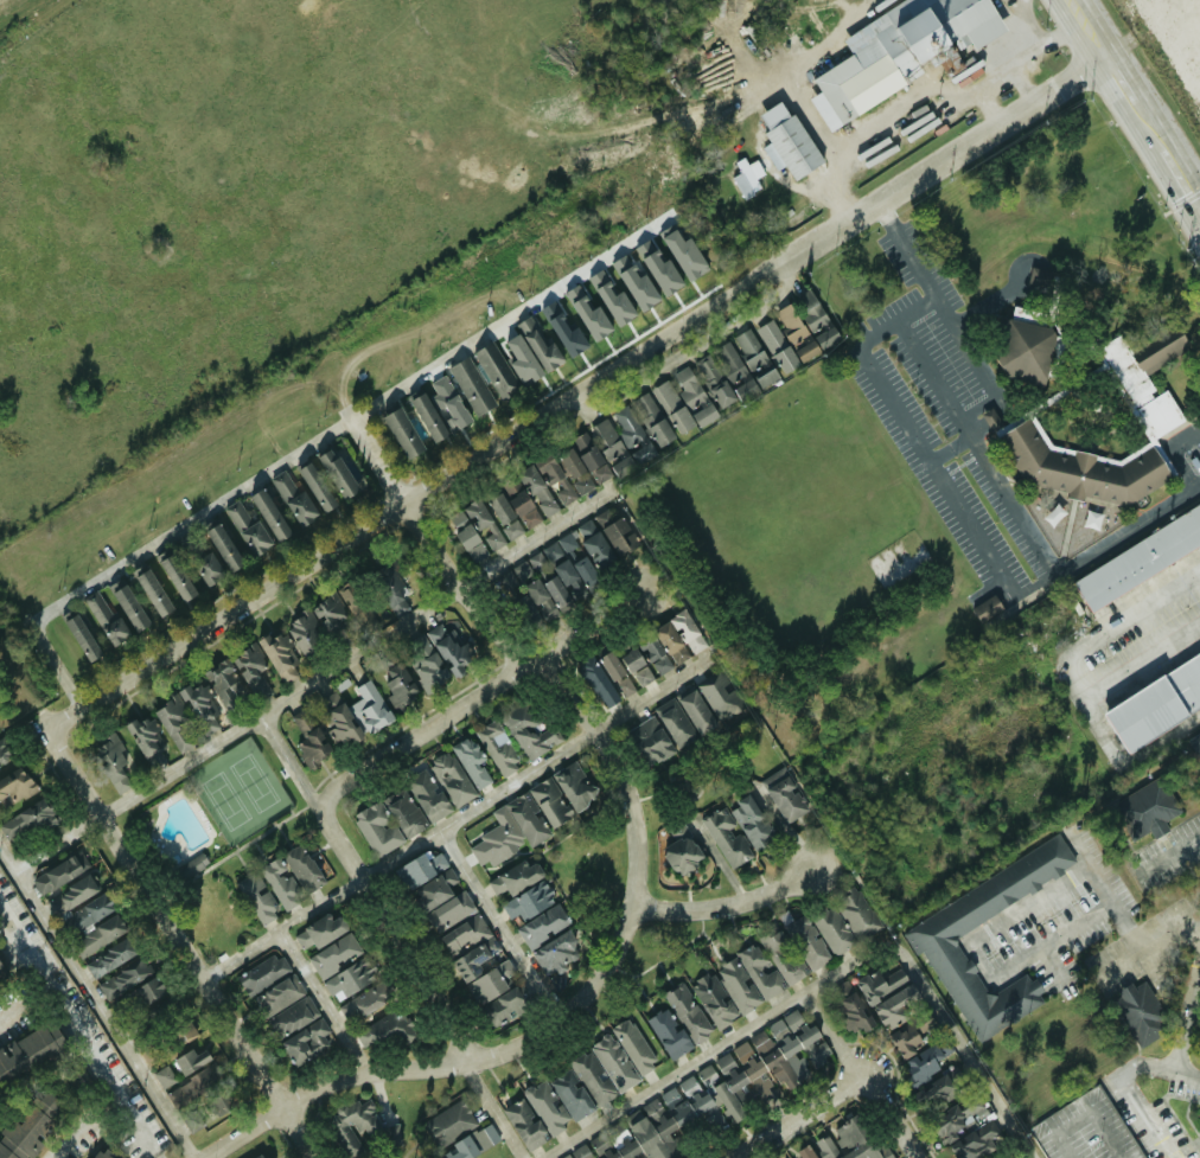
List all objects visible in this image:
road: (1074, 9)
road: (1033, 21)
road: (1064, 32)
road: (1093, 38)
building: (901, 50)
road: (784, 66)
road: (1011, 68)
road: (1118, 78)
road: (979, 90)
road: (1150, 130)
building: (789, 140)
road: (882, 143)
building: (749, 174)
road: (1183, 186)
building: (1040, 277)
building: (636, 280)
building: (587, 309)
road: (947, 314)
building: (817, 316)
building: (564, 328)
building: (789, 337)
building: (540, 343)
building: (1026, 350)
building: (755, 357)
building: (523, 358)
road: (671, 363)
building: (496, 369)
building: (727, 375)
building: (473, 384)
road: (575, 392)
building: (685, 399)
building: (449, 401)
building: (428, 415)
building: (653, 417)
building: (403, 430)
building: (624, 440)
road: (977, 444)
road: (951, 448)
building: (591, 455)
building: (1084, 467)
building: (338, 471)
building: (564, 472)
road: (1195, 481)
building: (317, 485)
building: (512, 485)
building: (537, 487)
building: (294, 495)
road: (217, 501)
building: (525, 507)
building: (270, 512)
building: (505, 513)
building: (249, 526)
building: (477, 527)
building: (615, 529)
building: (232, 532)
building: (582, 543)
building: (224, 545)
road: (987, 549)
building: (1140, 557)
building: (208, 567)
building: (528, 568)
building: (587, 572)
building: (178, 575)
building: (569, 576)
building: (157, 584)
building: (394, 591)
building: (558, 591)
building: (541, 595)
building: (129, 604)
building: (339, 606)
building: (988, 607)
building: (106, 615)
building: (306, 631)
building: (82, 635)
building: (681, 635)
building: (452, 648)
building: (656, 654)
building: (280, 655)
building: (426, 659)
road: (1144, 660)
building: (251, 663)
building: (637, 664)
road: (1075, 673)
building: (223, 677)
building: (606, 677)
road: (311, 680)
building: (401, 684)
road: (551, 684)
building: (719, 692)
building: (1156, 699)
building: (371, 705)
building: (697, 710)
road: (454, 711)
building: (170, 714)
building: (304, 721)
building: (340, 721)
building: (676, 722)
building: (531, 730)
building: (145, 734)
building: (1196, 738)
building: (651, 740)
building: (313, 746)
building: (499, 747)
building: (4, 748)
building: (113, 760)
building: (472, 761)
road: (288, 763)
building: (453, 776)
building: (17, 783)
building: (575, 783)
building: (786, 793)
building: (428, 794)
building: (550, 800)
building: (1149, 807)
building: (406, 811)
road: (455, 818)
building: (27, 819)
building: (752, 820)
building: (378, 827)
building: (511, 828)
building: (727, 837)
building: (682, 849)
road: (1170, 853)
road: (719, 860)
building: (194, 864)
building: (425, 865)
building: (304, 866)
building: (62, 871)
building: (517, 876)
building: (282, 882)
building: (435, 888)
road: (1106, 893)
building: (74, 894)
building: (260, 897)
building: (530, 898)
road: (726, 907)
building: (452, 910)
building: (89, 911)
building: (847, 921)
building: (544, 925)
road: (498, 928)
building: (321, 929)
building: (100, 934)
road: (175, 935)
road: (1151, 938)
building: (806, 939)
building: (934, 940)
building: (471, 945)
building: (557, 952)
building: (334, 954)
building: (784, 955)
building: (110, 957)
road: (982, 959)
road: (1054, 964)
road: (415, 970)
building: (1, 971)
building: (761, 971)
building: (264, 973)
building: (352, 975)
building: (126, 977)
building: (492, 980)
road: (822, 983)
building: (740, 984)
building: (151, 989)
road: (60, 991)
building: (281, 993)
building: (891, 994)
road: (26, 996)
building: (716, 999)
building: (366, 1000)
road: (95, 1003)
road: (324, 1003)
building: (504, 1005)
building: (689, 1011)
building: (855, 1011)
building: (1141, 1012)
building: (296, 1013)
road: (1188, 1019)
building: (384, 1029)
building: (185, 1031)
building: (671, 1032)
building: (914, 1035)
building: (760, 1037)
building: (307, 1041)
road: (835, 1041)
building: (636, 1044)
building: (31, 1051)
building: (192, 1060)
building: (615, 1061)
building: (926, 1061)
building: (773, 1063)
road: (1158, 1069)
road: (394, 1071)
building: (709, 1073)
building: (166, 1075)
building: (594, 1080)
building: (691, 1085)
building: (204, 1089)
building: (573, 1094)
building: (548, 1105)
road: (490, 1109)
road: (799, 1114)
road: (902, 1117)
building: (958, 1118)
road: (1149, 1119)
building: (451, 1121)
building: (526, 1122)
building: (666, 1124)
road: (89, 1125)
road: (139, 1125)
building: (359, 1125)
building: (1196, 1125)
building: (28, 1127)
building: (489, 1134)
building: (854, 1140)
building: (977, 1141)
building: (464, 1149)
building: (579, 1152)
building: (806, 1152)
building: (103, 1154)
road: (1066, 1154)
building: (261, 1156)
road: (923, 1157)

